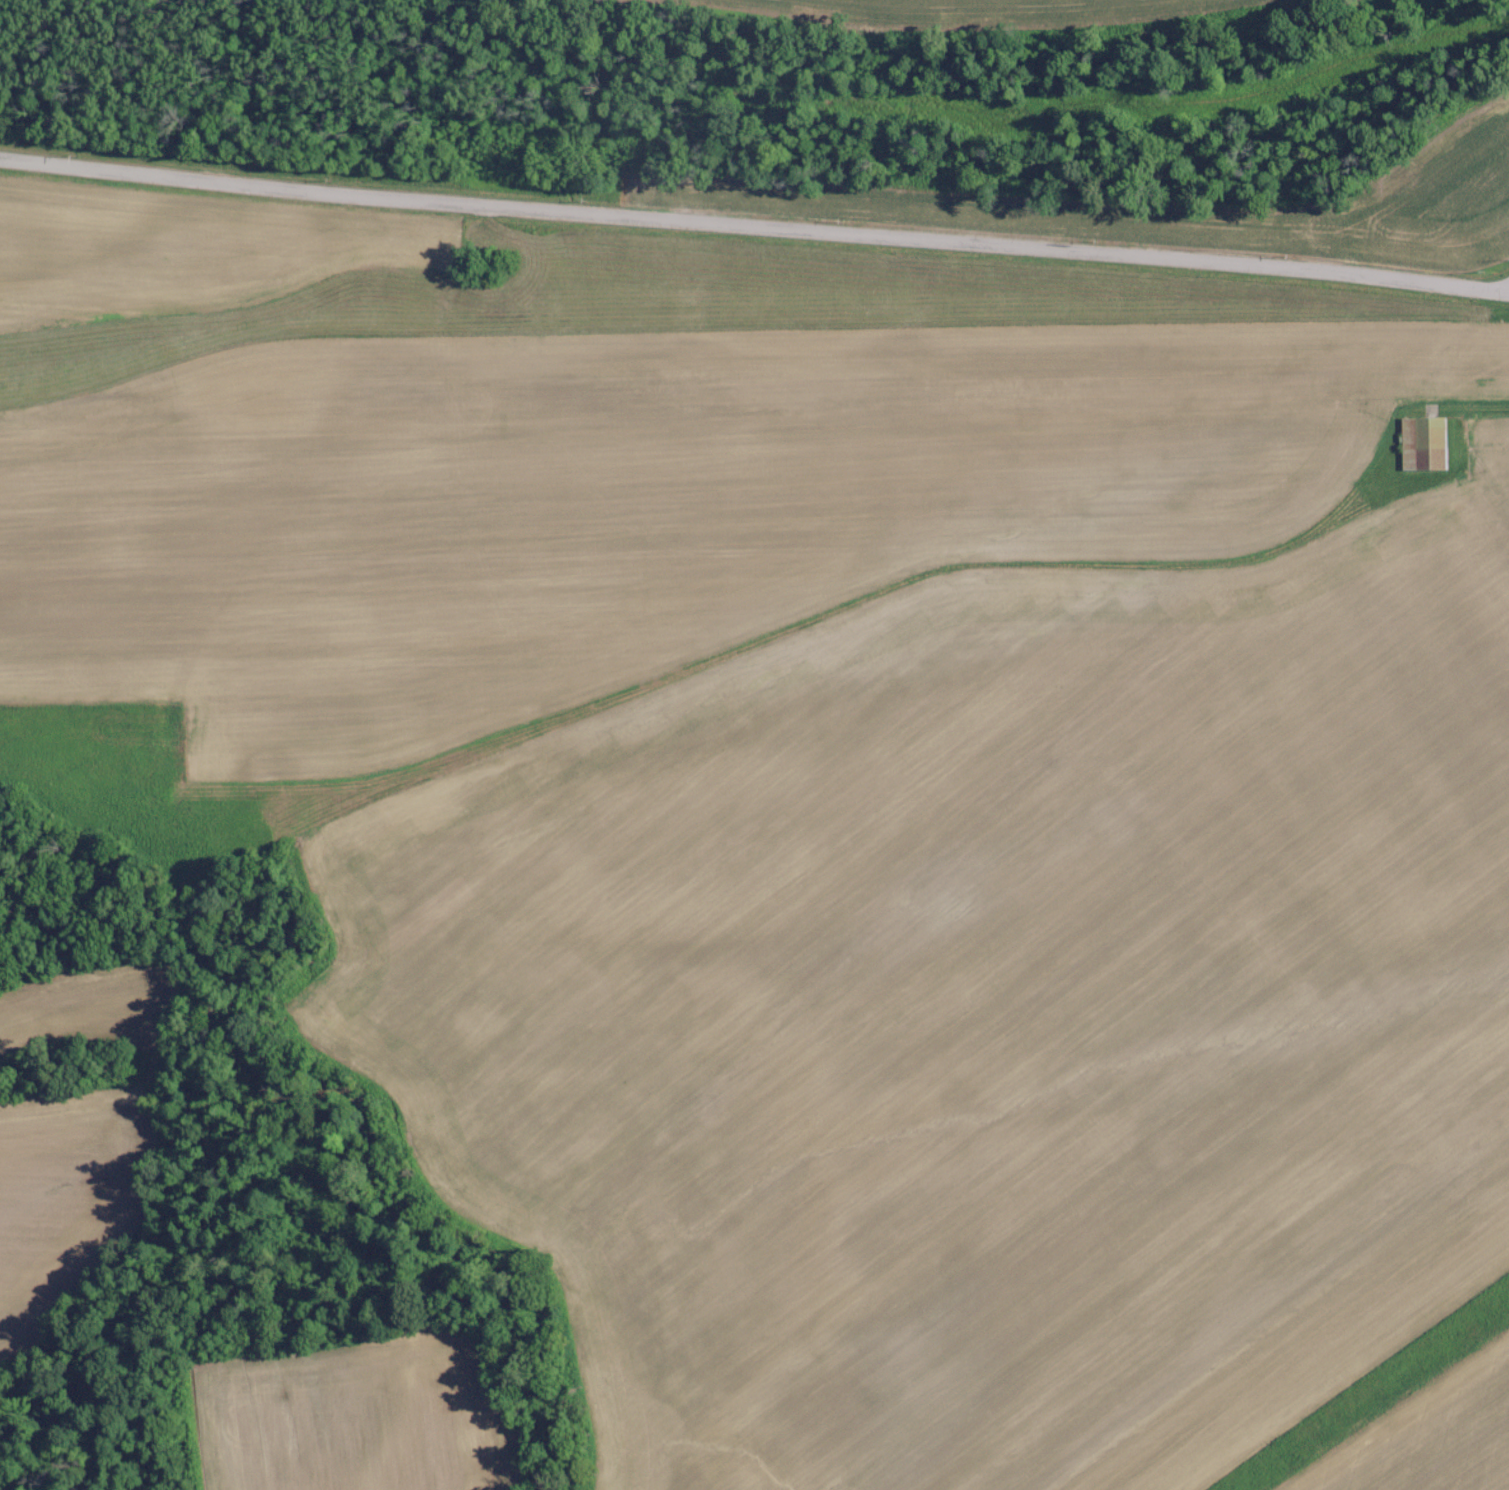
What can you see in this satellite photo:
road: (754, 223)

